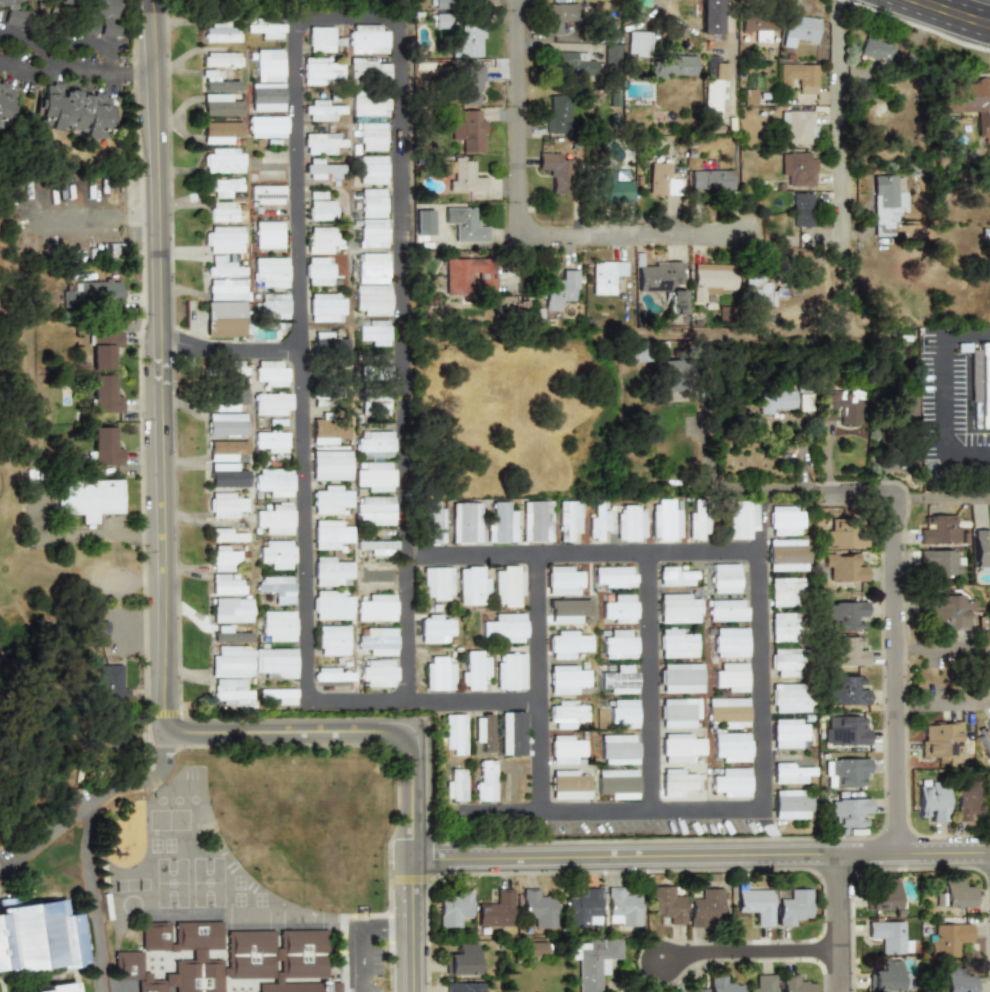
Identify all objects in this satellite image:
building: (7, 3)
building: (439, 4)
road: (970, 6)
road: (657, 8)
building: (95, 16)
building: (14, 17)
building: (559, 17)
road: (934, 19)
building: (439, 20)
building: (757, 26)
building: (266, 27)
building: (799, 28)
building: (220, 31)
road: (77, 39)
building: (321, 39)
building: (369, 39)
building: (468, 41)
building: (638, 43)
building: (876, 50)
building: (612, 51)
building: (221, 59)
road: (731, 60)
building: (574, 63)
building: (269, 65)
building: (675, 66)
building: (429, 67)
building: (320, 70)
building: (369, 70)
road: (78, 74)
building: (799, 76)
building: (217, 82)
road: (295, 83)
building: (471, 84)
building: (713, 90)
building: (749, 96)
building: (268, 97)
building: (6, 100)
building: (969, 101)
building: (220, 105)
building: (368, 105)
building: (323, 109)
building: (73, 111)
building: (911, 112)
building: (557, 114)
road: (515, 118)
building: (266, 127)
building: (798, 127)
building: (220, 131)
building: (469, 131)
building: (372, 136)
building: (322, 143)
building: (224, 159)
road: (842, 160)
building: (799, 167)
building: (372, 169)
building: (555, 169)
building: (320, 170)
building: (463, 177)
building: (663, 179)
building: (711, 180)
building: (221, 186)
building: (617, 192)
building: (267, 194)
building: (372, 202)
building: (885, 204)
building: (322, 207)
building: (801, 209)
building: (221, 212)
road: (95, 215)
building: (423, 220)
building: (464, 224)
building: (373, 233)
building: (268, 235)
building: (223, 239)
building: (324, 239)
road: (626, 239)
building: (221, 265)
building: (373, 267)
building: (319, 271)
building: (270, 272)
building: (470, 275)
building: (605, 276)
building: (712, 279)
building: (663, 283)
building: (757, 286)
building: (799, 288)
building: (99, 289)
building: (225, 289)
building: (561, 289)
building: (373, 300)
building: (275, 306)
building: (327, 308)
building: (224, 319)
building: (374, 332)
road: (965, 336)
building: (325, 343)
building: (103, 348)
road: (229, 350)
building: (637, 350)
building: (229, 368)
building: (270, 373)
building: (377, 373)
building: (668, 376)
building: (983, 385)
building: (326, 392)
building: (104, 394)
building: (773, 399)
building: (227, 400)
road: (941, 400)
building: (799, 402)
building: (272, 403)
building: (374, 403)
building: (836, 406)
building: (903, 407)
building: (226, 424)
building: (328, 430)
building: (270, 441)
building: (374, 444)
building: (104, 446)
building: (227, 450)
road: (966, 462)
building: (331, 465)
building: (228, 475)
building: (375, 477)
building: (274, 481)
road: (852, 490)
building: (88, 497)
building: (330, 498)
building: (228, 505)
building: (374, 510)
building: (275, 518)
building: (567, 518)
building: (741, 518)
road: (761, 519)
building: (536, 520)
building: (596, 520)
building: (664, 520)
building: (786, 520)
building: (465, 521)
building: (500, 522)
building: (433, 523)
building: (630, 523)
building: (698, 523)
building: (940, 530)
building: (330, 534)
building: (228, 535)
building: (845, 537)
road: (161, 541)
building: (375, 547)
building: (981, 549)
building: (276, 553)
road: (583, 554)
building: (788, 555)
building: (224, 558)
building: (940, 561)
building: (843, 567)
building: (332, 571)
building: (378, 575)
building: (678, 575)
building: (614, 576)
building: (725, 578)
building: (564, 580)
building: (437, 583)
building: (227, 584)
building: (471, 585)
building: (509, 586)
building: (275, 587)
building: (785, 591)
building: (332, 605)
building: (376, 608)
building: (679, 608)
building: (232, 609)
building: (619, 609)
building: (566, 610)
building: (727, 610)
building: (951, 611)
building: (846, 614)
building: (277, 626)
building: (784, 626)
building: (982, 626)
building: (435, 628)
building: (503, 628)
building: (332, 640)
building: (378, 641)
building: (566, 642)
building: (678, 642)
building: (730, 642)
building: (620, 644)
road: (941, 645)
building: (847, 652)
building: (231, 661)
building: (785, 662)
building: (275, 663)
building: (473, 668)
road: (891, 670)
building: (509, 671)
building: (377, 673)
building: (438, 673)
building: (333, 674)
building: (566, 678)
building: (681, 678)
building: (729, 678)
building: (619, 680)
road: (540, 682)
road: (652, 682)
building: (847, 691)
building: (231, 692)
building: (280, 695)
building: (789, 698)
road: (941, 701)
building: (624, 712)
building: (728, 712)
building: (565, 713)
building: (679, 713)
building: (846, 730)
building: (512, 733)
building: (789, 733)
building: (454, 734)
building: (941, 739)
building: (985, 740)
building: (679, 747)
building: (730, 747)
building: (566, 749)
building: (618, 749)
building: (847, 771)
building: (791, 772)
building: (485, 780)
building: (676, 781)
building: (618, 783)
building: (731, 783)
building: (455, 784)
building: (570, 784)
road: (95, 799)
building: (965, 799)
building: (931, 800)
building: (989, 800)
building: (791, 803)
road: (737, 810)
building: (849, 810)
road: (700, 851)
building: (883, 894)
building: (952, 894)
road: (89, 898)
building: (666, 903)
building: (754, 905)
building: (704, 906)
building: (793, 906)
building: (582, 907)
building: (621, 907)
building: (454, 908)
building: (537, 908)
building: (497, 910)
road: (834, 921)
road: (411, 922)
road: (386, 928)
building: (39, 936)
building: (887, 936)
building: (948, 939)
building: (536, 948)
road: (741, 953)
building: (590, 959)
building: (463, 960)
building: (230, 961)
road: (362, 962)
building: (888, 977)
building: (955, 980)
building: (722, 984)
building: (762, 984)
building: (795, 984)
building: (60, 987)
building: (463, 987)
building: (694, 990)

